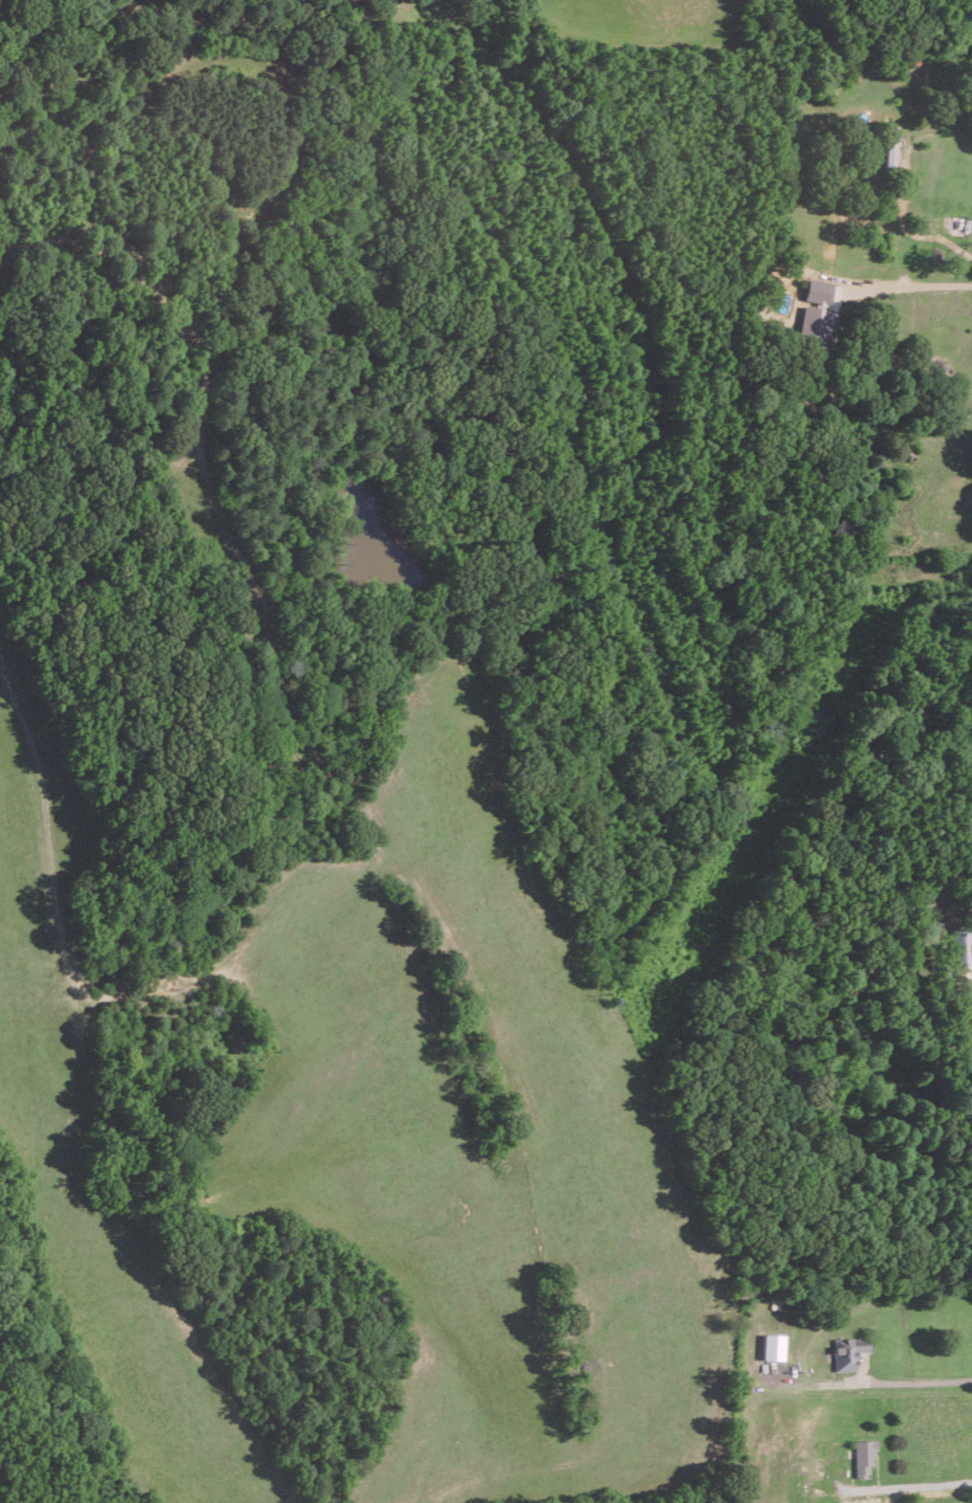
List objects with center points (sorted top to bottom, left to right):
road: (911, 280)
building: (818, 290)
building: (816, 326)
building: (961, 948)
building: (773, 1346)
building: (848, 1352)
road: (922, 1380)
building: (863, 1456)
road: (919, 1486)

